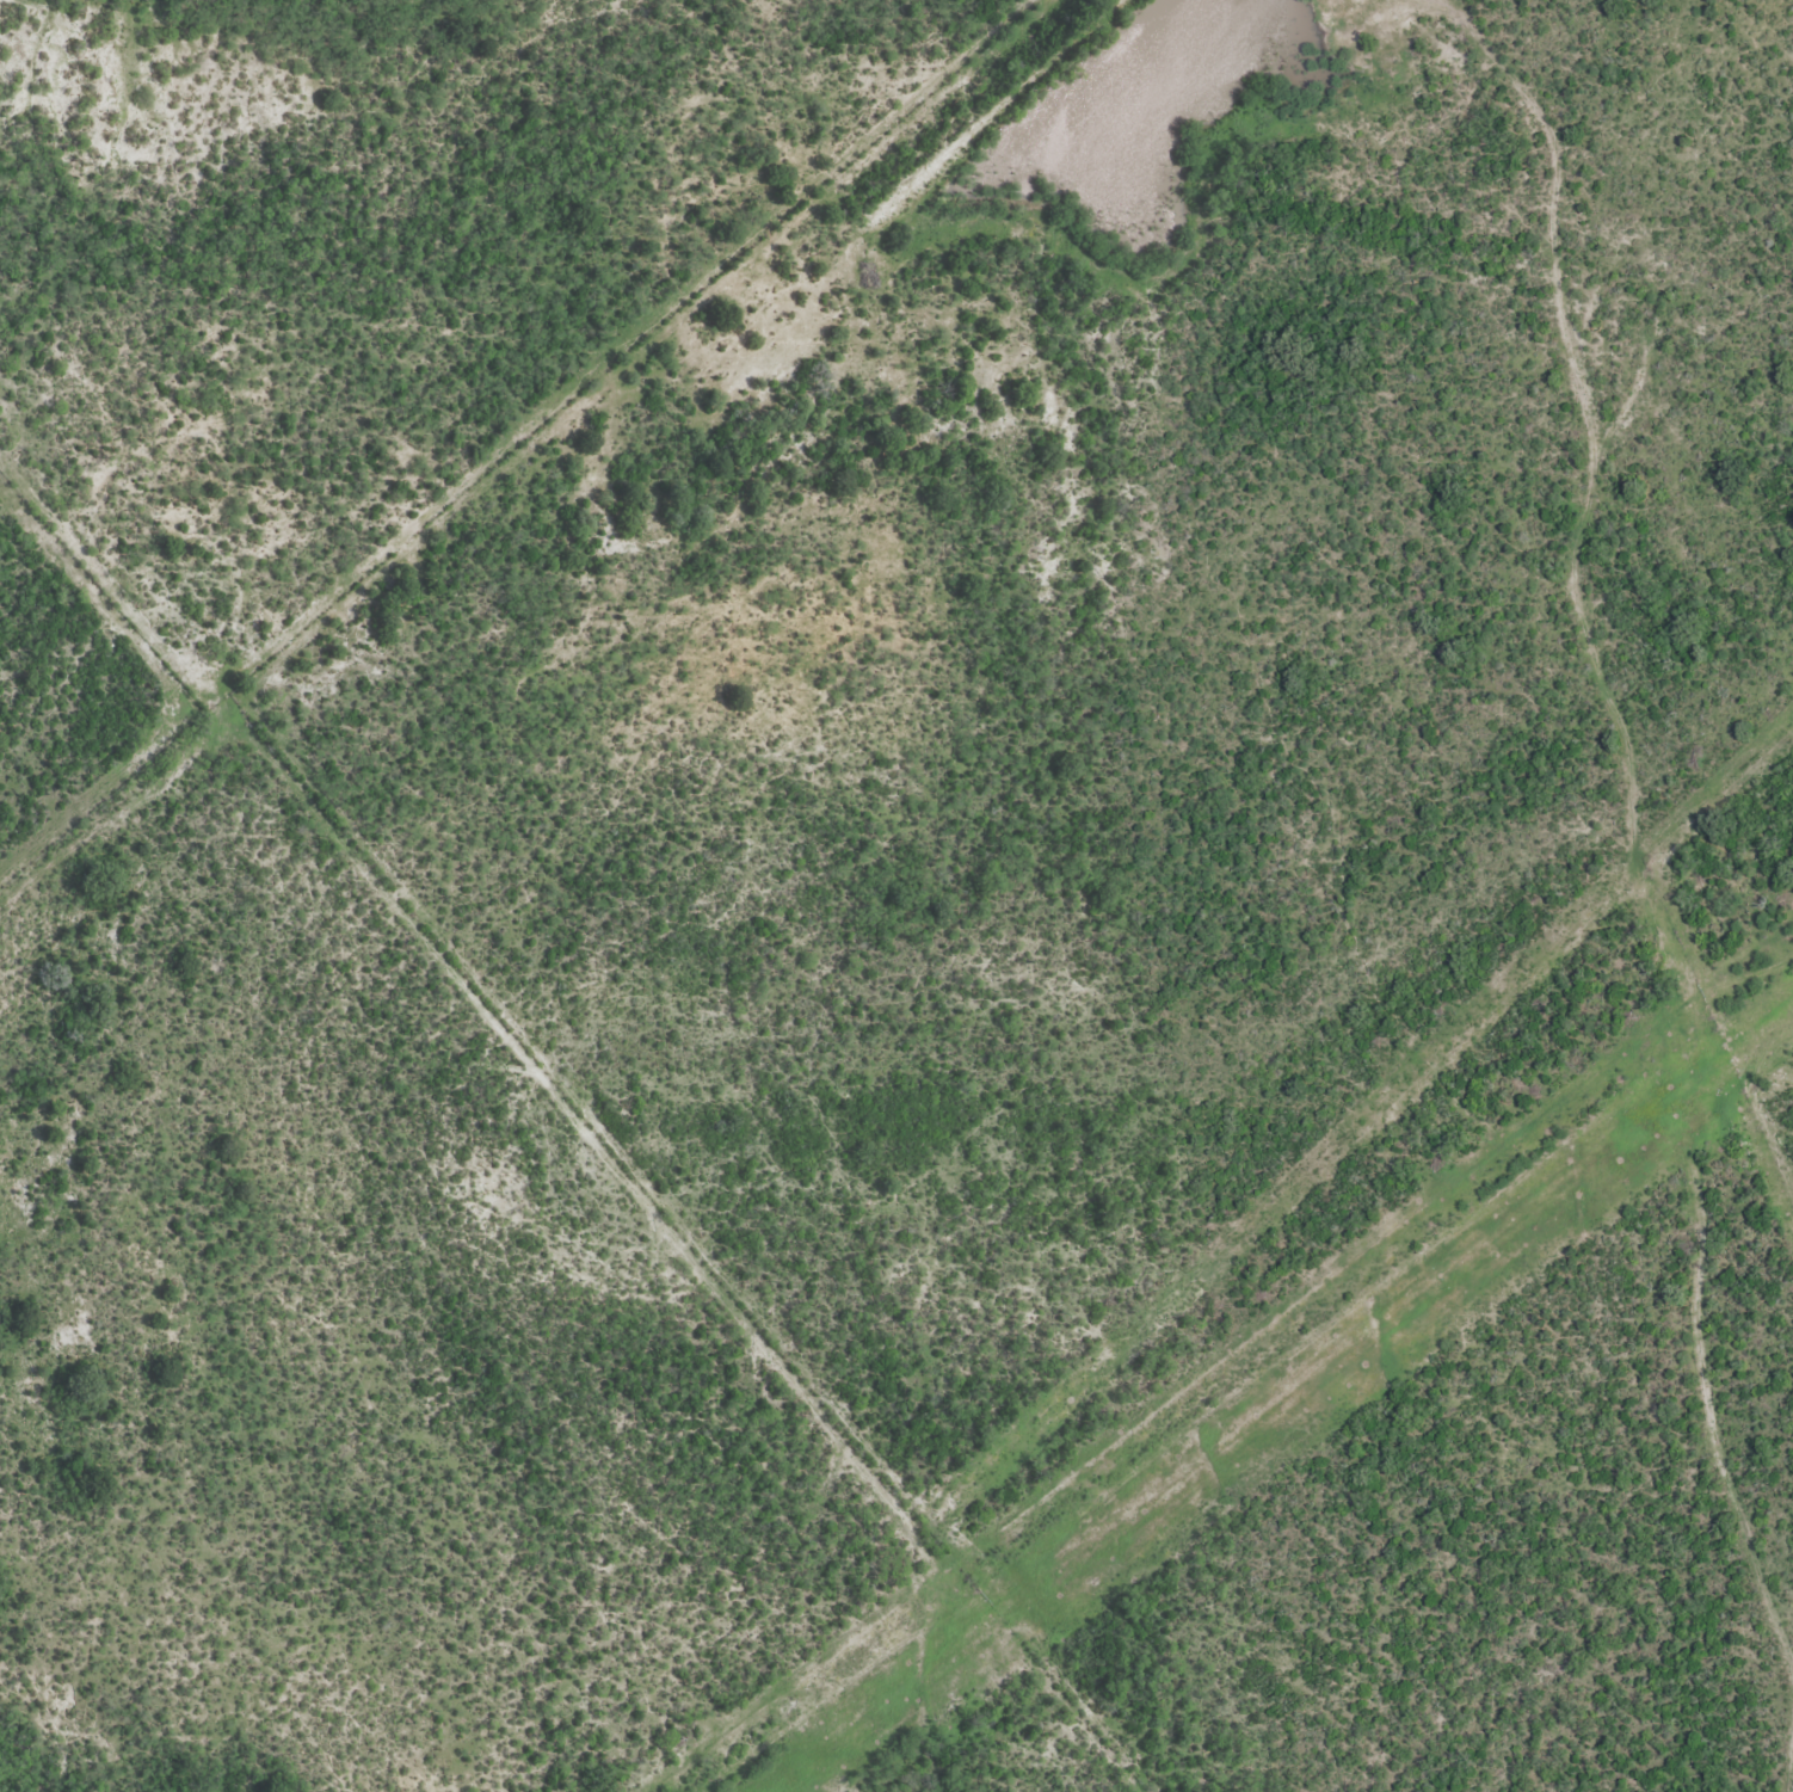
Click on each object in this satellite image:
road: (1626, 506)
road: (1702, 1360)

